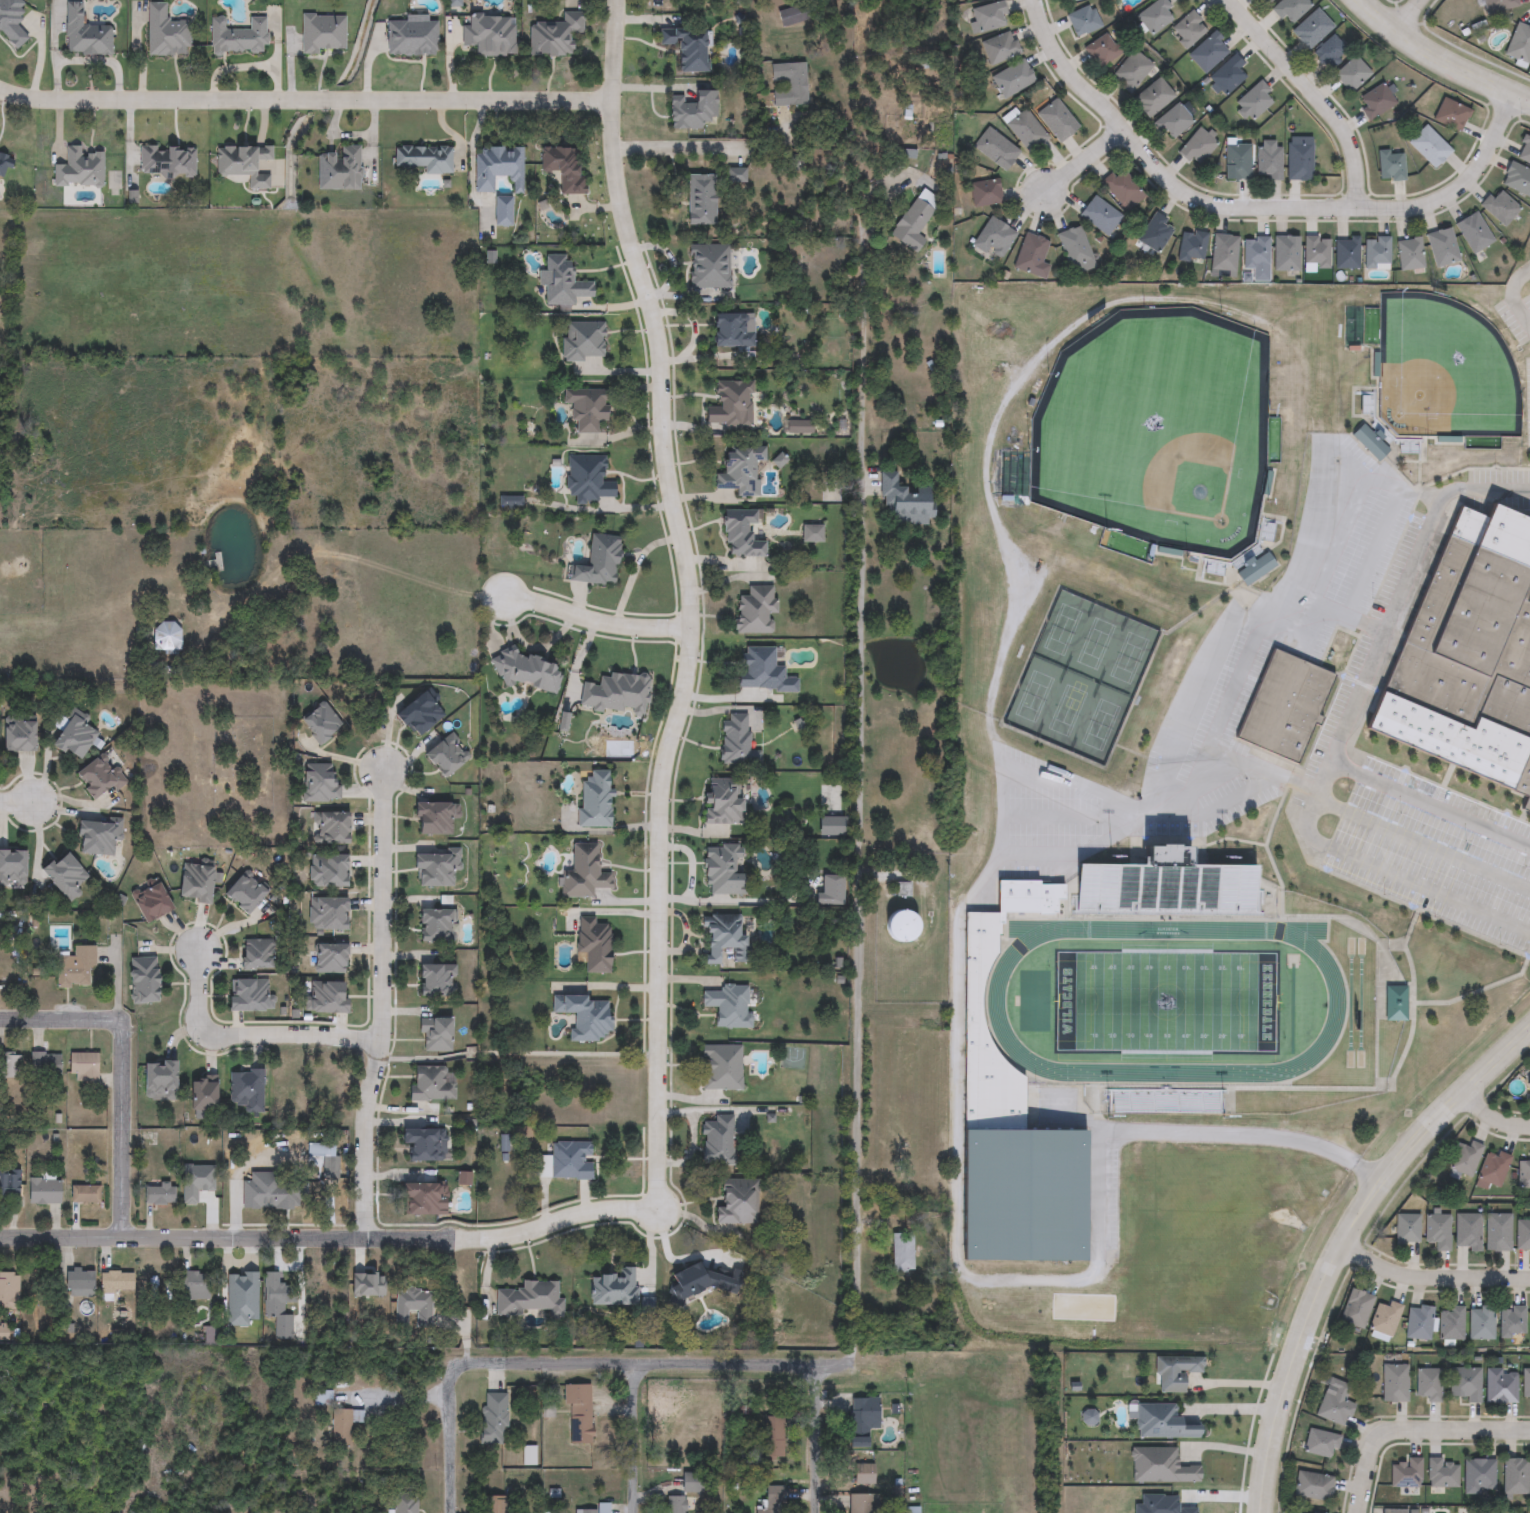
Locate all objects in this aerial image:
building: (1269, 1)
building: (1498, 5)
building: (1290, 10)
building: (792, 12)
building: (1156, 15)
building: (988, 17)
road: (1416, 17)
building: (11, 20)
building: (1083, 21)
building: (1188, 29)
building: (1312, 29)
building: (165, 30)
building: (84, 31)
building: (323, 31)
building: (489, 33)
building: (238, 34)
building: (553, 34)
building: (411, 36)
building: (1519, 43)
building: (686, 44)
building: (1000, 48)
building: (1102, 50)
building: (1209, 52)
building: (1330, 52)
road: (1429, 54)
building: (1132, 71)
building: (1352, 74)
building: (1229, 75)
building: (1012, 78)
building: (789, 81)
building: (1153, 97)
road: (1315, 97)
road: (1520, 98)
road: (307, 99)
building: (1254, 101)
building: (1376, 101)
building: (691, 108)
building: (1451, 114)
building: (1057, 120)
building: (1173, 121)
building: (1027, 131)
building: (1429, 146)
building: (1197, 147)
building: (996, 148)
road: (712, 149)
building: (1524, 150)
building: (424, 157)
building: (1299, 158)
building: (166, 159)
building: (243, 161)
building: (3, 162)
building: (1237, 162)
building: (1268, 163)
building: (498, 165)
building: (1390, 165)
building: (79, 166)
building: (339, 166)
building: (562, 166)
road: (1086, 166)
building: (1517, 178)
building: (1122, 189)
building: (985, 192)
building: (700, 198)
building: (1500, 207)
building: (502, 208)
building: (1099, 215)
road: (1252, 215)
building: (915, 222)
building: (1473, 231)
building: (1156, 232)
building: (994, 239)
building: (1192, 246)
building: (1442, 247)
building: (1075, 250)
building: (1317, 251)
building: (1224, 253)
building: (1287, 253)
building: (1346, 253)
building: (1377, 253)
building: (1410, 253)
building: (1030, 254)
building: (1256, 258)
building: (709, 264)
building: (562, 280)
road: (1511, 301)
building: (731, 329)
building: (582, 339)
building: (729, 401)
building: (587, 405)
building: (1371, 443)
building: (738, 467)
building: (588, 478)
building: (905, 503)
building: (740, 532)
building: (597, 560)
building: (1256, 570)
road: (598, 608)
building: (755, 608)
park: (1062, 629)
building: (166, 637)
park: (1094, 643)
road: (1374, 647)
building: (1470, 655)
park: (1128, 657)
building: (758, 666)
building: (527, 671)
road: (690, 671)
building: (615, 691)
park: (1033, 696)
road: (1204, 700)
building: (1284, 705)
park: (1066, 710)
building: (417, 715)
building: (319, 724)
park: (1100, 724)
building: (17, 737)
building: (72, 737)
building: (736, 740)
building: (445, 756)
park: (215, 763)
building: (99, 776)
building: (317, 784)
building: (595, 796)
road: (1429, 798)
building: (722, 799)
road: (19, 801)
road: (862, 812)
building: (433, 819)
building: (330, 829)
building: (96, 837)
road: (1421, 845)
building: (435, 866)
building: (12, 867)
building: (723, 867)
building: (327, 871)
building: (584, 871)
building: (63, 876)
building: (194, 884)
building: (1166, 887)
building: (903, 891)
building: (243, 894)
building: (149, 903)
building: (326, 914)
building: (434, 922)
building: (901, 929)
building: (724, 938)
building: (594, 942)
building: (255, 955)
building: (329, 959)
building: (74, 968)
building: (142, 980)
building: (435, 981)
building: (249, 996)
building: (325, 998)
park: (1166, 1001)
track: (1336, 1001)
building: (727, 1004)
road: (380, 1005)
building: (1396, 1005)
building: (583, 1014)
road: (58, 1018)
road: (252, 1032)
building: (1245, 1035)
building: (436, 1036)
building: (45, 1064)
building: (9, 1065)
building: (721, 1065)
building: (82, 1066)
building: (158, 1081)
building: (430, 1084)
building: (1528, 1086)
building: (245, 1090)
building: (201, 1095)
road: (1491, 1119)
road: (124, 1127)
building: (717, 1138)
building: (1011, 1144)
building: (423, 1145)
building: (323, 1156)
building: (1464, 1157)
building: (566, 1159)
building: (1492, 1167)
building: (1524, 1173)
road: (956, 1177)
building: (9, 1181)
building: (43, 1191)
building: (84, 1193)
building: (158, 1194)
building: (423, 1199)
building: (737, 1199)
building: (1404, 1228)
building: (1436, 1230)
building: (1466, 1231)
building: (1496, 1231)
building: (1522, 1234)
road: (265, 1237)
road: (1341, 1241)
building: (903, 1254)
road: (1431, 1279)
building: (114, 1281)
building: (78, 1283)
building: (193, 1285)
building: (614, 1285)
building: (8, 1291)
building: (275, 1294)
building: (529, 1295)
building: (1355, 1307)
building: (411, 1308)
building: (1384, 1317)
building: (1511, 1319)
building: (1418, 1321)
building: (1480, 1321)
building: (1451, 1322)
building: (1529, 1324)
road: (614, 1365)
building: (1176, 1372)
building: (1393, 1381)
road: (1238, 1382)
building: (1463, 1382)
building: (1525, 1382)
building: (1428, 1383)
building: (1500, 1385)
road: (399, 1396)
building: (321, 1398)
building: (1334, 1401)
road: (1235, 1409)
building: (578, 1410)
building: (493, 1418)
building: (860, 1419)
building: (1163, 1421)
building: (342, 1426)
building: (772, 1435)
road: (1418, 1436)
road: (634, 1438)
road: (818, 1441)
building: (1320, 1443)
road: (450, 1465)
building: (1161, 1465)
building: (1404, 1472)
building: (863, 1473)
building: (1442, 1473)
building: (1478, 1475)
building: (1514, 1475)
building: (691, 1482)
building: (1312, 1485)
building: (773, 1499)
building: (403, 1503)
building: (861, 1503)
building: (494, 1504)
building: (674, 1504)
building: (603, 1506)
building: (1309, 1512)

